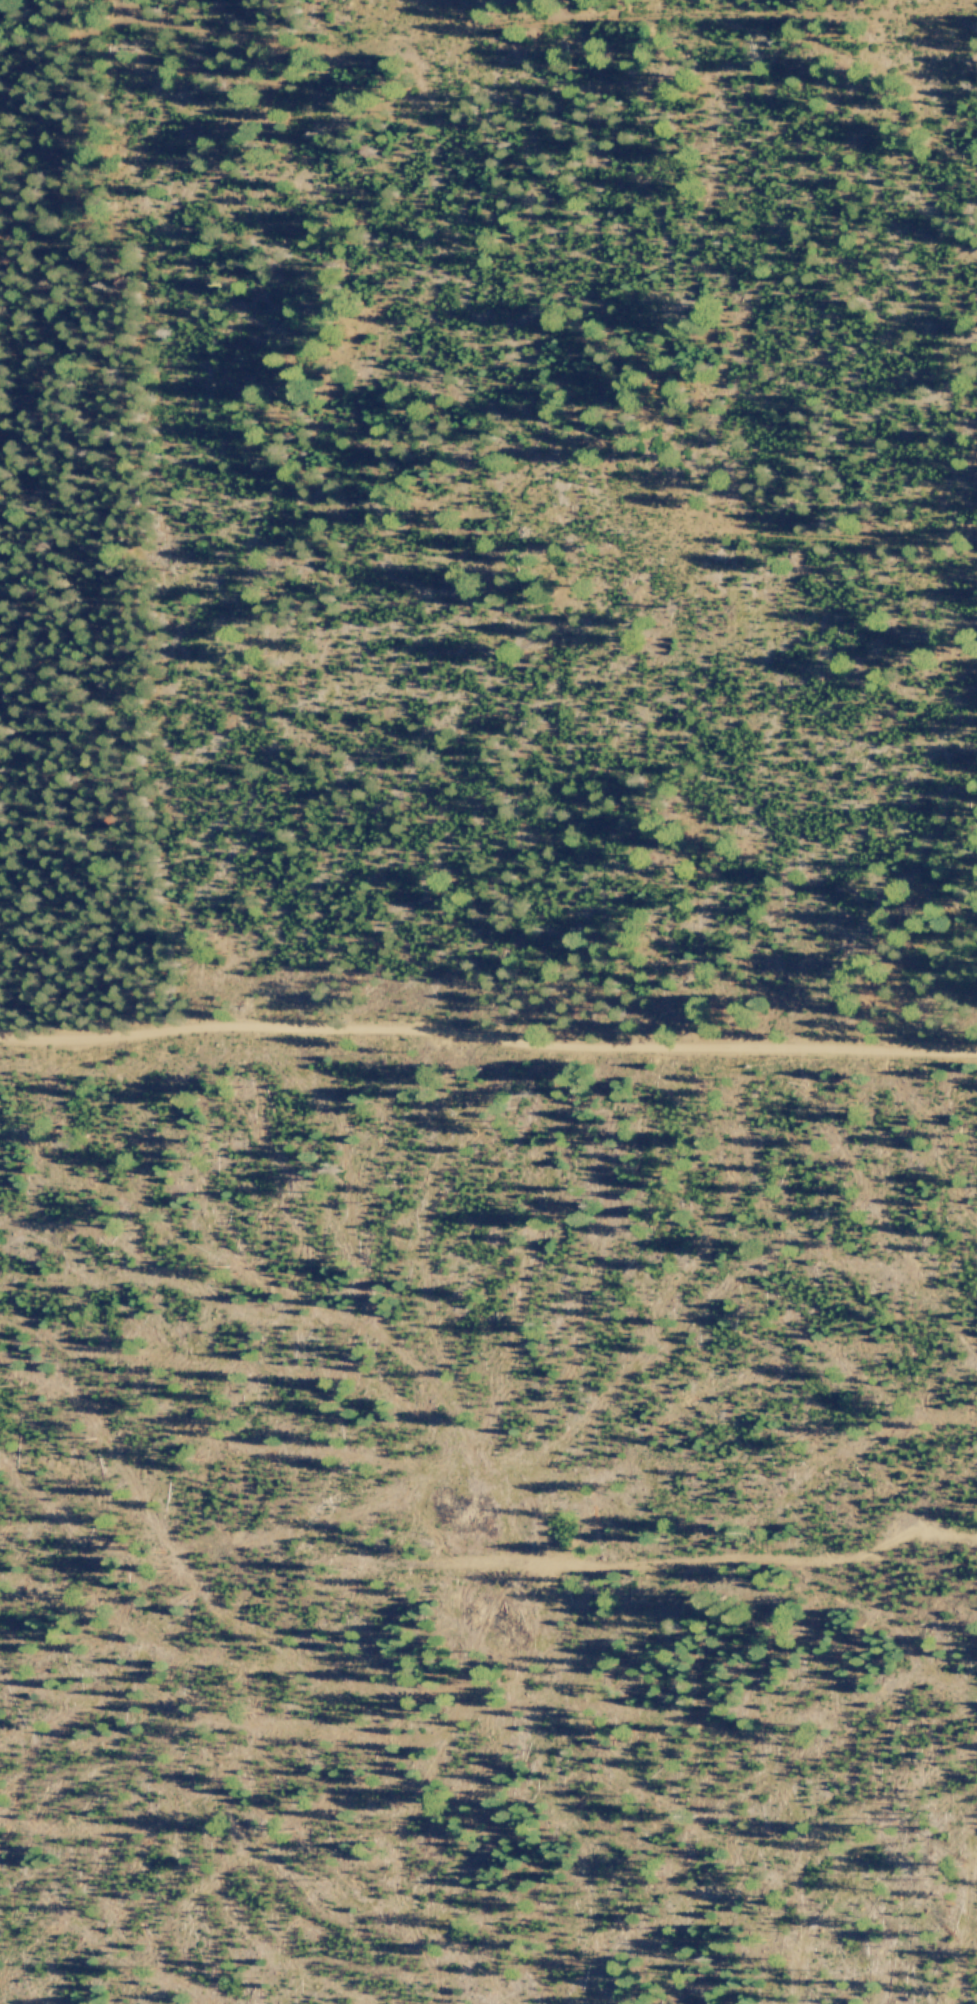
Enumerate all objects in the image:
road: (488, 1036)

